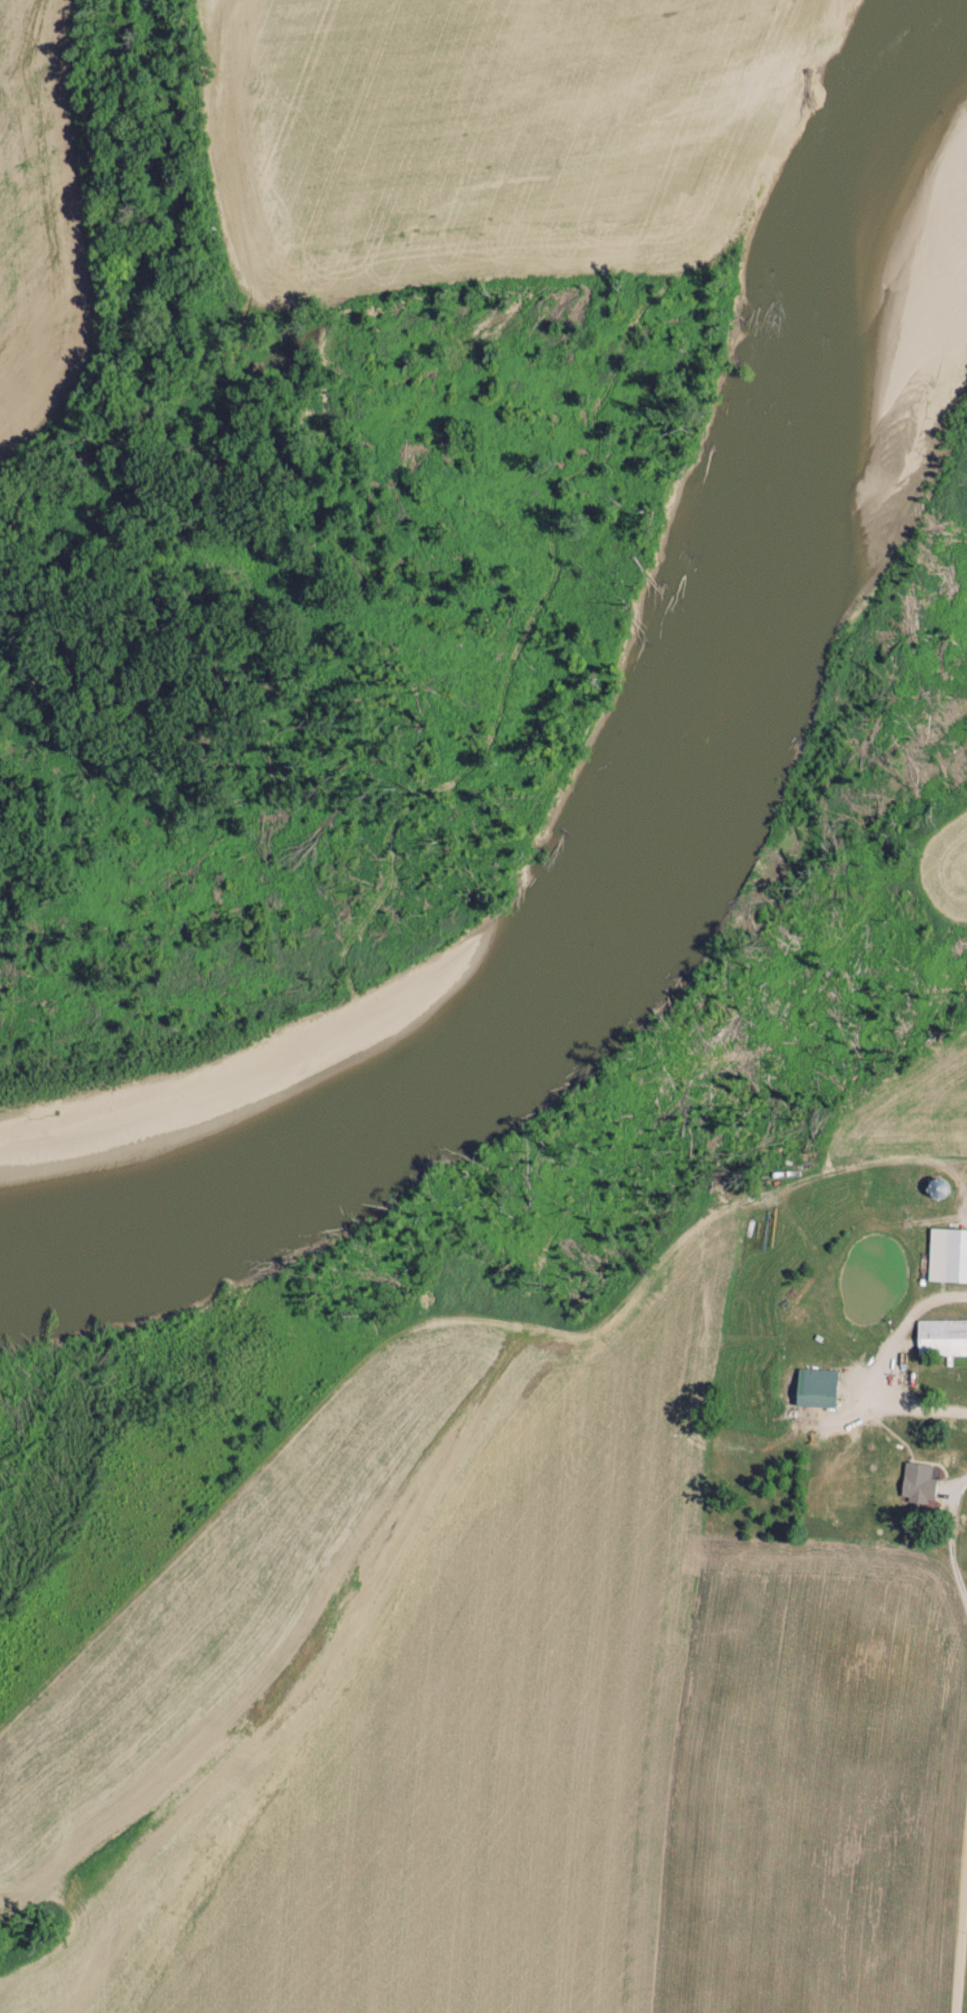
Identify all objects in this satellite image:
river: (647, 884)
building: (956, 1254)
road: (904, 1325)
building: (942, 1336)
building: (816, 1386)
road: (907, 1401)
building: (915, 1480)
road: (950, 1535)
road: (962, 1955)

